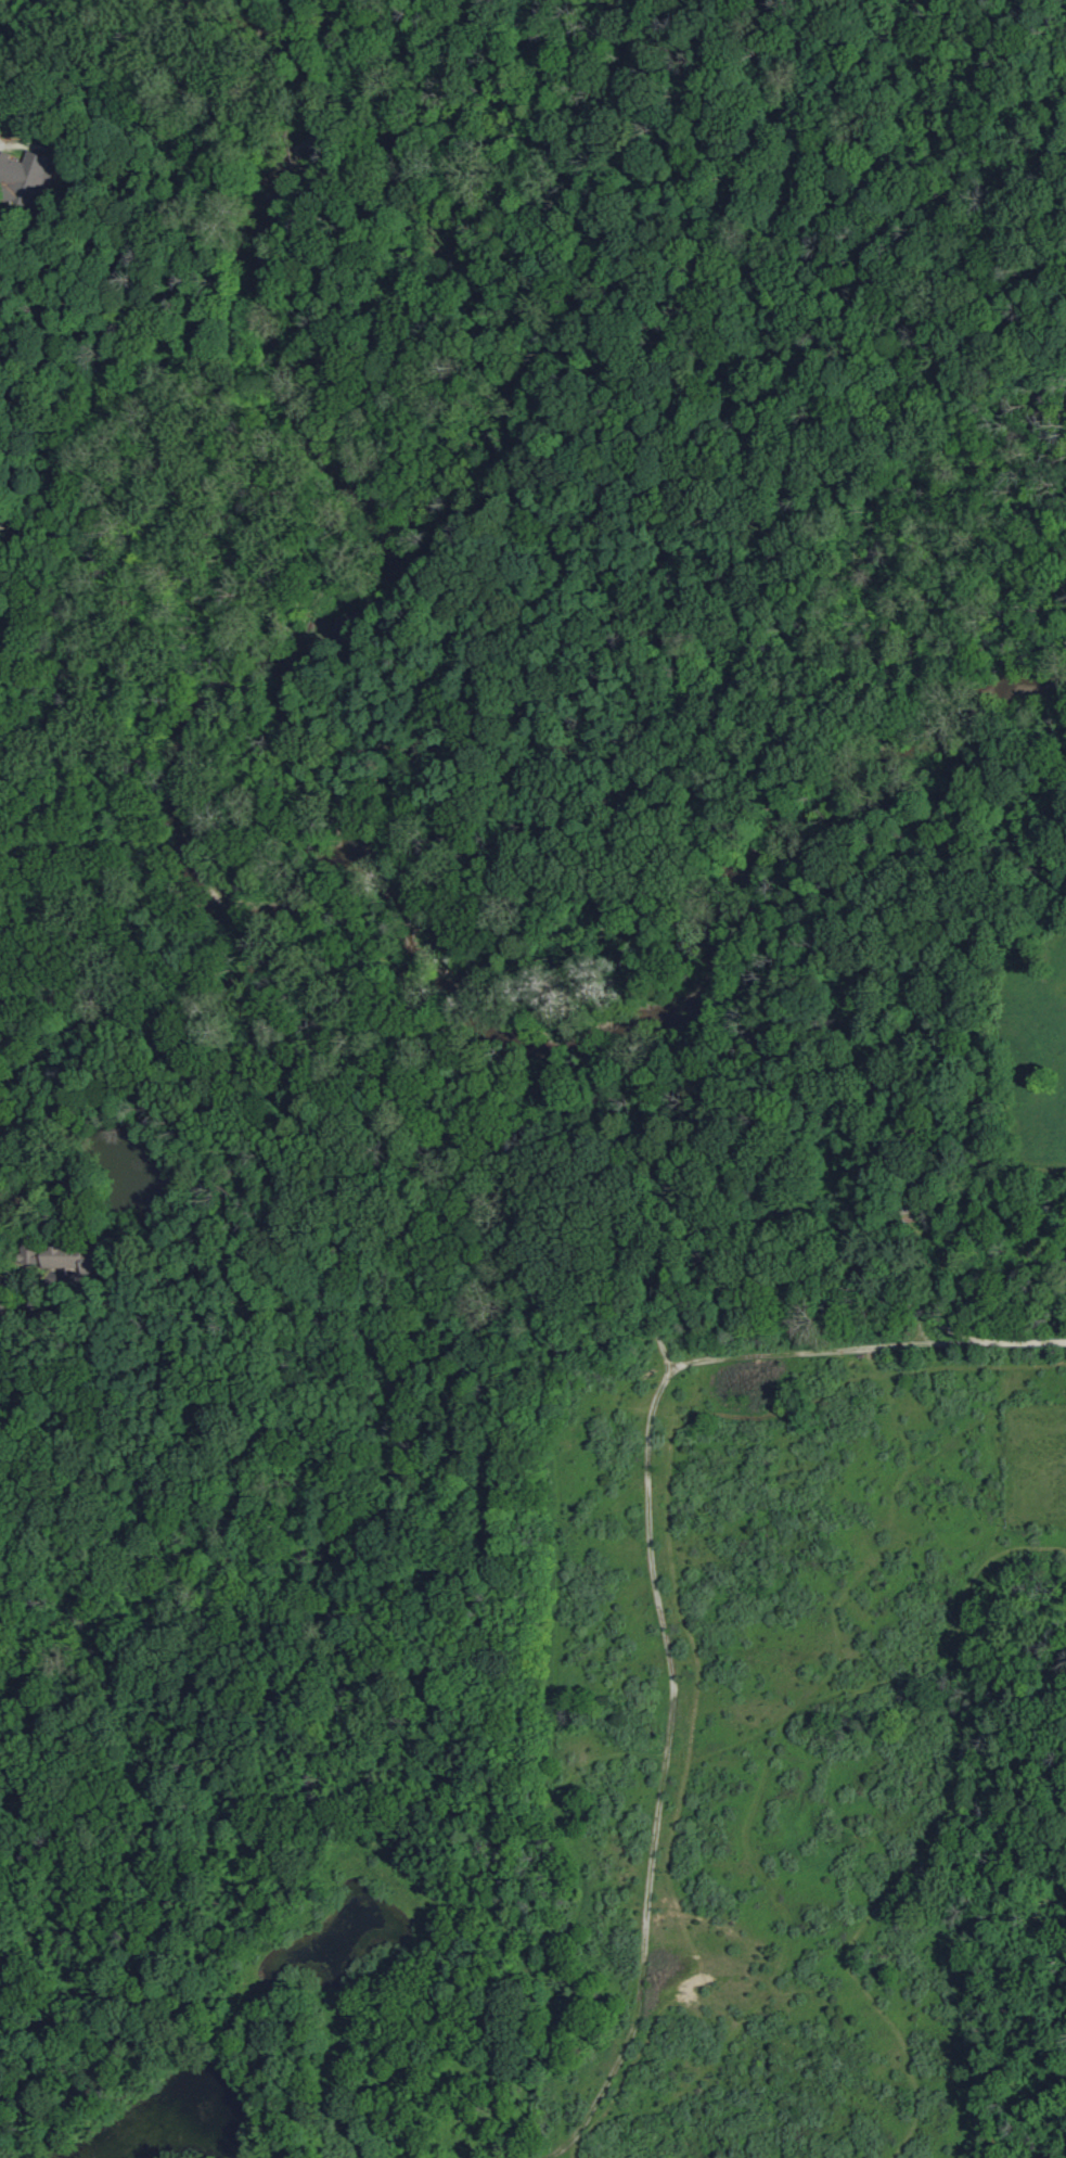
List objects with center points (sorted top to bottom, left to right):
building: (25, 177)
building: (70, 1257)
road: (28, 1284)
road: (654, 1582)

